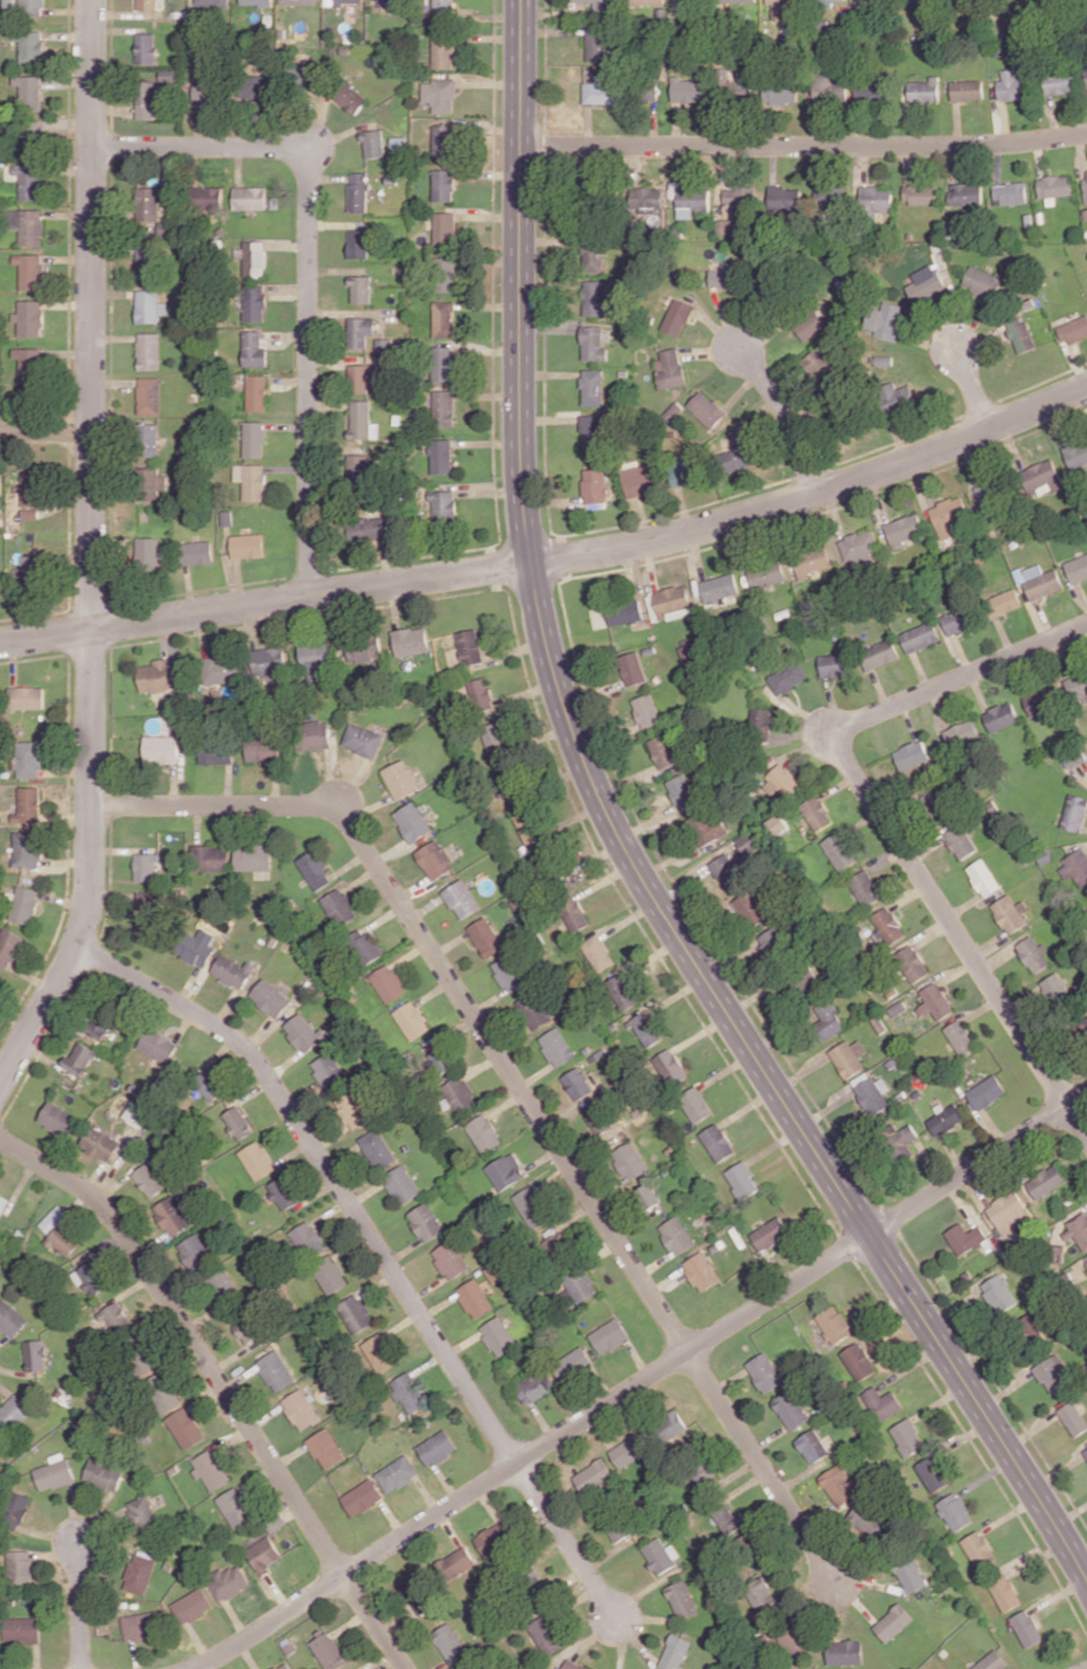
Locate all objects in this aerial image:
building: (740, 0)
building: (827, 0)
building: (867, 0)
building: (296, 1)
building: (692, 1)
building: (921, 1)
building: (257, 2)
building: (345, 2)
building: (386, 2)
building: (647, 2)
building: (212, 3)
building: (9, 4)
building: (148, 4)
building: (601, 5)
building: (32, 8)
building: (781, 8)
building: (442, 10)
building: (596, 44)
building: (31, 45)
building: (146, 47)
building: (441, 54)
building: (305, 74)
building: (168, 75)
building: (1086, 75)
building: (1058, 82)
building: (1011, 86)
building: (688, 89)
building: (830, 89)
building: (203, 90)
building: (645, 90)
building: (923, 90)
building: (966, 90)
building: (30, 91)
building: (601, 91)
building: (780, 92)
building: (872, 92)
building: (439, 94)
building: (349, 98)
building: (148, 100)
building: (444, 140)
building: (31, 142)
building: (373, 143)
road: (804, 147)
road: (309, 148)
building: (29, 181)
building: (1085, 182)
building: (444, 185)
building: (1053, 187)
building: (358, 191)
building: (919, 193)
building: (965, 193)
building: (1009, 193)
building: (206, 197)
building: (739, 197)
building: (249, 198)
building: (647, 198)
building: (785, 199)
building: (830, 199)
building: (876, 199)
building: (692, 200)
building: (150, 202)
building: (27, 225)
building: (445, 229)
building: (359, 243)
building: (593, 257)
building: (255, 258)
building: (147, 264)
road: (309, 268)
building: (30, 270)
building: (447, 274)
building: (725, 275)
building: (983, 281)
building: (926, 283)
building: (360, 289)
building: (595, 299)
building: (254, 302)
building: (149, 305)
building: (677, 316)
building: (30, 318)
building: (444, 319)
building: (885, 320)
building: (810, 325)
building: (1074, 330)
building: (360, 331)
building: (1021, 335)
building: (595, 343)
building: (253, 348)
building: (148, 351)
building: (444, 363)
building: (30, 364)
building: (818, 364)
building: (670, 368)
building: (359, 377)
building: (593, 387)
road: (972, 388)
building: (257, 392)
building: (148, 396)
building: (897, 397)
building: (444, 408)
building: (707, 410)
road: (787, 416)
building: (360, 419)
building: (592, 432)
road: (45, 433)
building: (254, 438)
building: (147, 439)
building: (739, 450)
building: (1076, 454)
building: (440, 456)
building: (357, 468)
building: (681, 471)
building: (1041, 476)
building: (251, 480)
building: (639, 480)
building: (0, 485)
building: (153, 485)
building: (595, 485)
building: (31, 489)
building: (989, 493)
building: (444, 507)
building: (30, 513)
building: (950, 516)
building: (226, 518)
building: (368, 528)
building: (905, 528)
building: (247, 545)
building: (861, 548)
building: (147, 550)
road: (90, 552)
building: (197, 552)
road: (554, 558)
building: (811, 560)
building: (1077, 568)
building: (30, 570)
building: (766, 574)
building: (1039, 580)
building: (0, 582)
building: (719, 587)
building: (672, 602)
building: (1004, 602)
building: (624, 612)
building: (956, 621)
building: (920, 636)
building: (410, 641)
building: (469, 646)
building: (363, 649)
building: (315, 654)
building: (879, 654)
building: (268, 660)
building: (834, 664)
building: (631, 668)
building: (221, 669)
building: (155, 676)
building: (787, 677)
building: (1077, 688)
building: (479, 693)
building: (25, 697)
building: (1042, 698)
building: (646, 711)
building: (1000, 716)
building: (760, 721)
building: (961, 733)
building: (312, 735)
building: (492, 736)
building: (362, 739)
building: (160, 748)
building: (262, 749)
building: (663, 749)
building: (215, 752)
building: (911, 754)
building: (1075, 757)
building: (29, 759)
building: (401, 779)
building: (781, 781)
building: (682, 791)
building: (27, 804)
building: (1075, 812)
building: (816, 813)
building: (413, 821)
building: (526, 823)
road: (886, 823)
building: (777, 824)
building: (708, 826)
building: (959, 841)
building: (747, 842)
building: (26, 848)
road: (624, 848)
building: (838, 850)
building: (251, 857)
building: (210, 858)
building: (435, 859)
building: (144, 867)
building: (724, 867)
building: (1075, 868)
building: (314, 870)
building: (983, 877)
building: (864, 888)
building: (462, 899)
building: (25, 904)
building: (338, 906)
building: (750, 908)
building: (148, 911)
building: (1009, 913)
building: (574, 914)
building: (886, 924)
building: (485, 936)
building: (771, 942)
building: (363, 946)
building: (9, 947)
building: (195, 947)
building: (597, 953)
building: (1033, 954)
building: (911, 963)
building: (232, 970)
building: (508, 973)
road: (446, 975)
building: (386, 983)
building: (623, 991)
building: (269, 998)
building: (933, 1001)
building: (534, 1010)
building: (411, 1020)
building: (829, 1020)
building: (1083, 1021)
building: (99, 1023)
building: (646, 1028)
building: (302, 1032)
building: (960, 1037)
building: (158, 1045)
building: (557, 1046)
building: (848, 1057)
building: (80, 1058)
building: (438, 1059)
building: (670, 1067)
building: (328, 1069)
building: (210, 1083)
building: (578, 1083)
building: (986, 1092)
building: (457, 1094)
building: (696, 1104)
building: (354, 1110)
building: (135, 1114)
building: (58, 1119)
building: (945, 1119)
building: (601, 1120)
building: (237, 1123)
building: (483, 1133)
building: (899, 1141)
building: (718, 1142)
building: (100, 1144)
building: (377, 1148)
building: (257, 1159)
building: (630, 1160)
road: (328, 1170)
building: (505, 1171)
building: (148, 1180)
building: (742, 1180)
building: (1045, 1181)
building: (401, 1184)
building: (282, 1193)
building: (649, 1195)
building: (2, 1202)
building: (530, 1205)
building: (1009, 1212)
building: (172, 1215)
building: (425, 1221)
building: (1077, 1231)
building: (60, 1232)
building: (771, 1233)
building: (677, 1235)
building: (965, 1237)
building: (307, 1239)
building: (556, 1245)
building: (195, 1253)
building: (449, 1259)
building: (1086, 1262)
building: (702, 1271)
building: (330, 1275)
building: (91, 1278)
building: (224, 1284)
building: (579, 1287)
building: (998, 1293)
building: (474, 1298)
building: (356, 1313)
building: (117, 1317)
building: (11, 1318)
building: (833, 1324)
building: (247, 1328)
building: (1034, 1331)
building: (498, 1335)
building: (609, 1335)
building: (380, 1353)
building: (36, 1355)
building: (859, 1361)
building: (572, 1362)
building: (276, 1370)
building: (764, 1372)
building: (1052, 1373)
road: (640, 1382)
road: (222, 1384)
building: (536, 1386)
building: (164, 1390)
building: (408, 1391)
building: (881, 1402)
building: (300, 1409)
building: (791, 1410)
building: (13, 1413)
building: (1073, 1418)
building: (670, 1426)
building: (186, 1427)
building: (907, 1436)
building: (811, 1446)
building: (437, 1447)
building: (325, 1448)
building: (629, 1449)
building: (1085, 1451)
road: (761, 1465)
building: (211, 1469)
building: (55, 1472)
building: (104, 1473)
building: (397, 1473)
building: (932, 1473)
building: (593, 1475)
building: (704, 1475)
building: (840, 1483)
building: (362, 1496)
building: (235, 1506)
building: (18, 1509)
building: (954, 1511)
building: (142, 1512)
building: (730, 1520)
building: (866, 1522)
building: (620, 1528)
building: (493, 1537)
road: (565, 1539)
building: (978, 1549)
building: (264, 1554)
building: (660, 1555)
building: (456, 1562)
building: (20, 1567)
building: (139, 1573)
building: (910, 1573)
building: (533, 1577)
building: (228, 1582)
building: (761, 1593)
building: (1006, 1593)
building: (418, 1598)
building: (682, 1599)
road: (80, 1605)
building: (191, 1605)
building: (894, 1622)
building: (141, 1625)
building: (1027, 1627)
building: (22, 1629)
building: (547, 1634)
building: (793, 1638)
building: (449, 1643)
building: (328, 1651)
building: (675, 1651)
building: (845, 1651)
building: (991, 1661)
building: (573, 1665)
building: (283, 1666)
building: (468, 1666)

